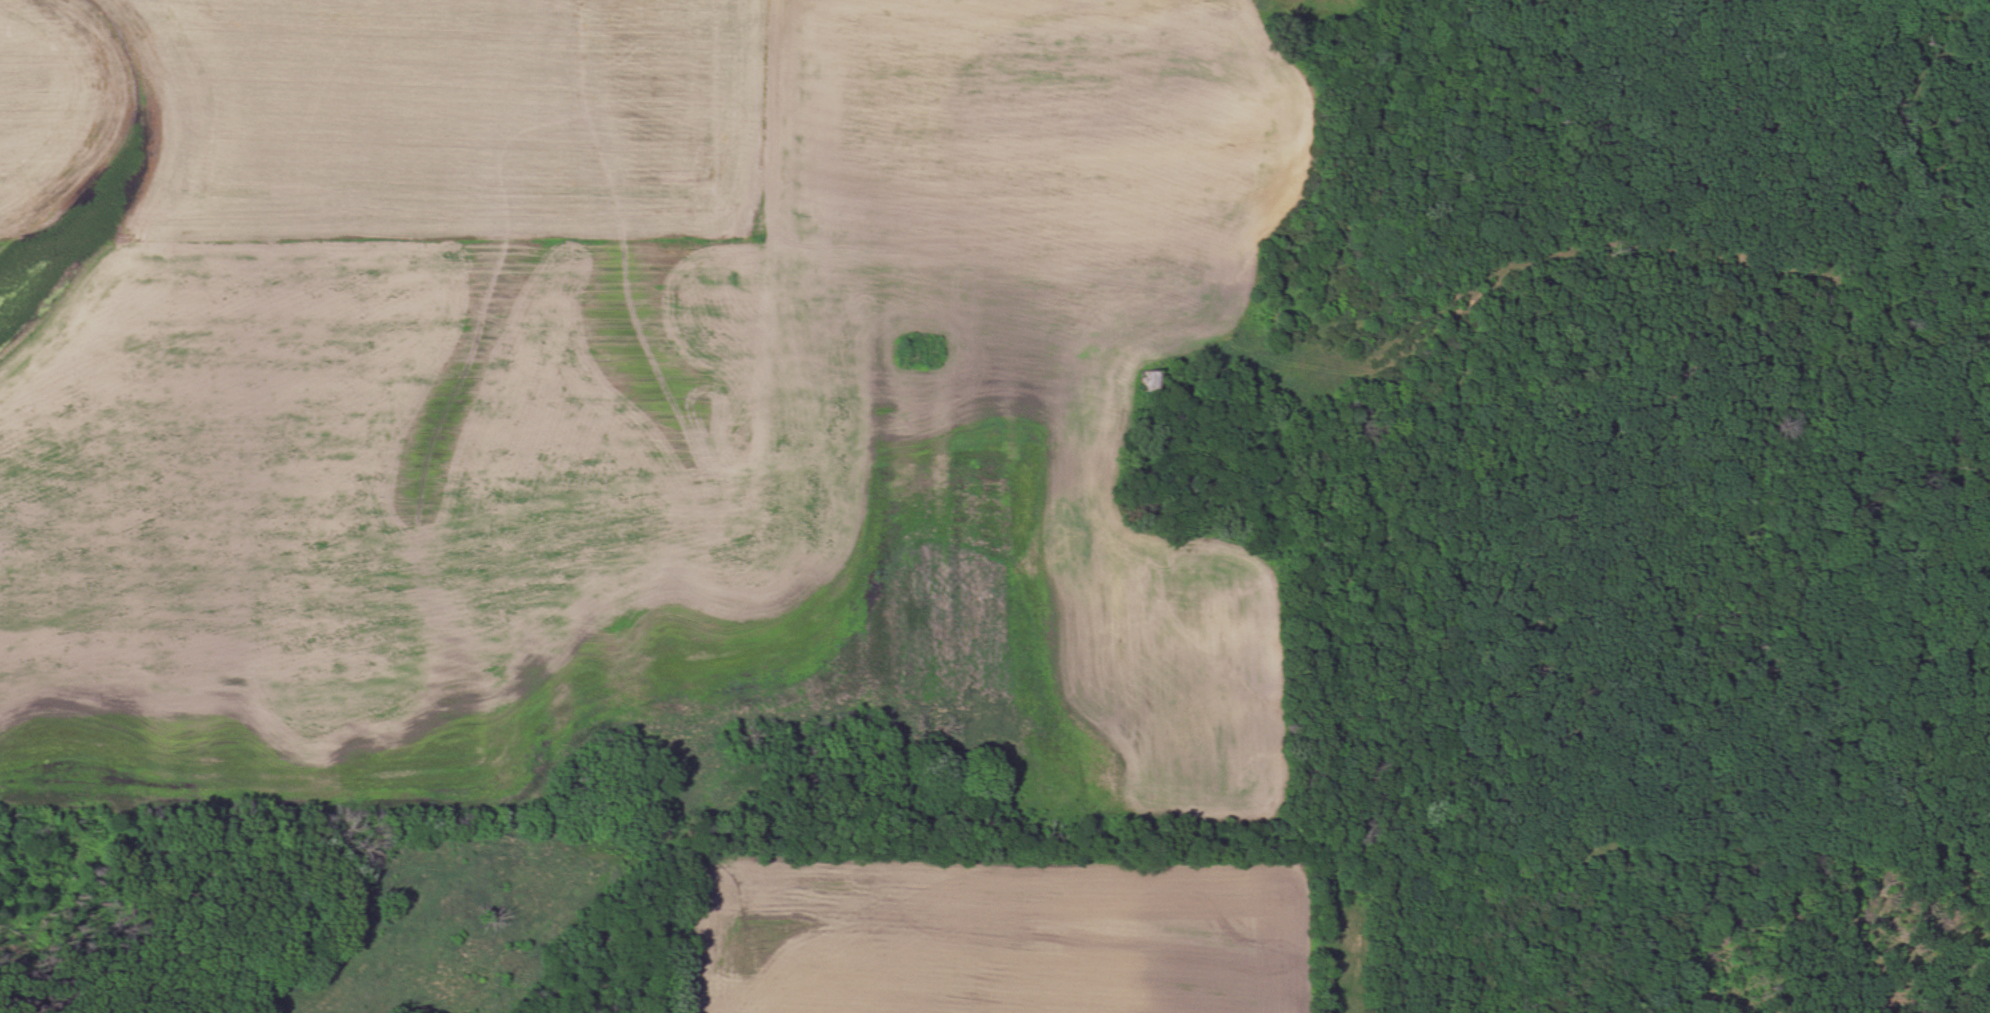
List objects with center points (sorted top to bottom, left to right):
building: (1150, 381)

